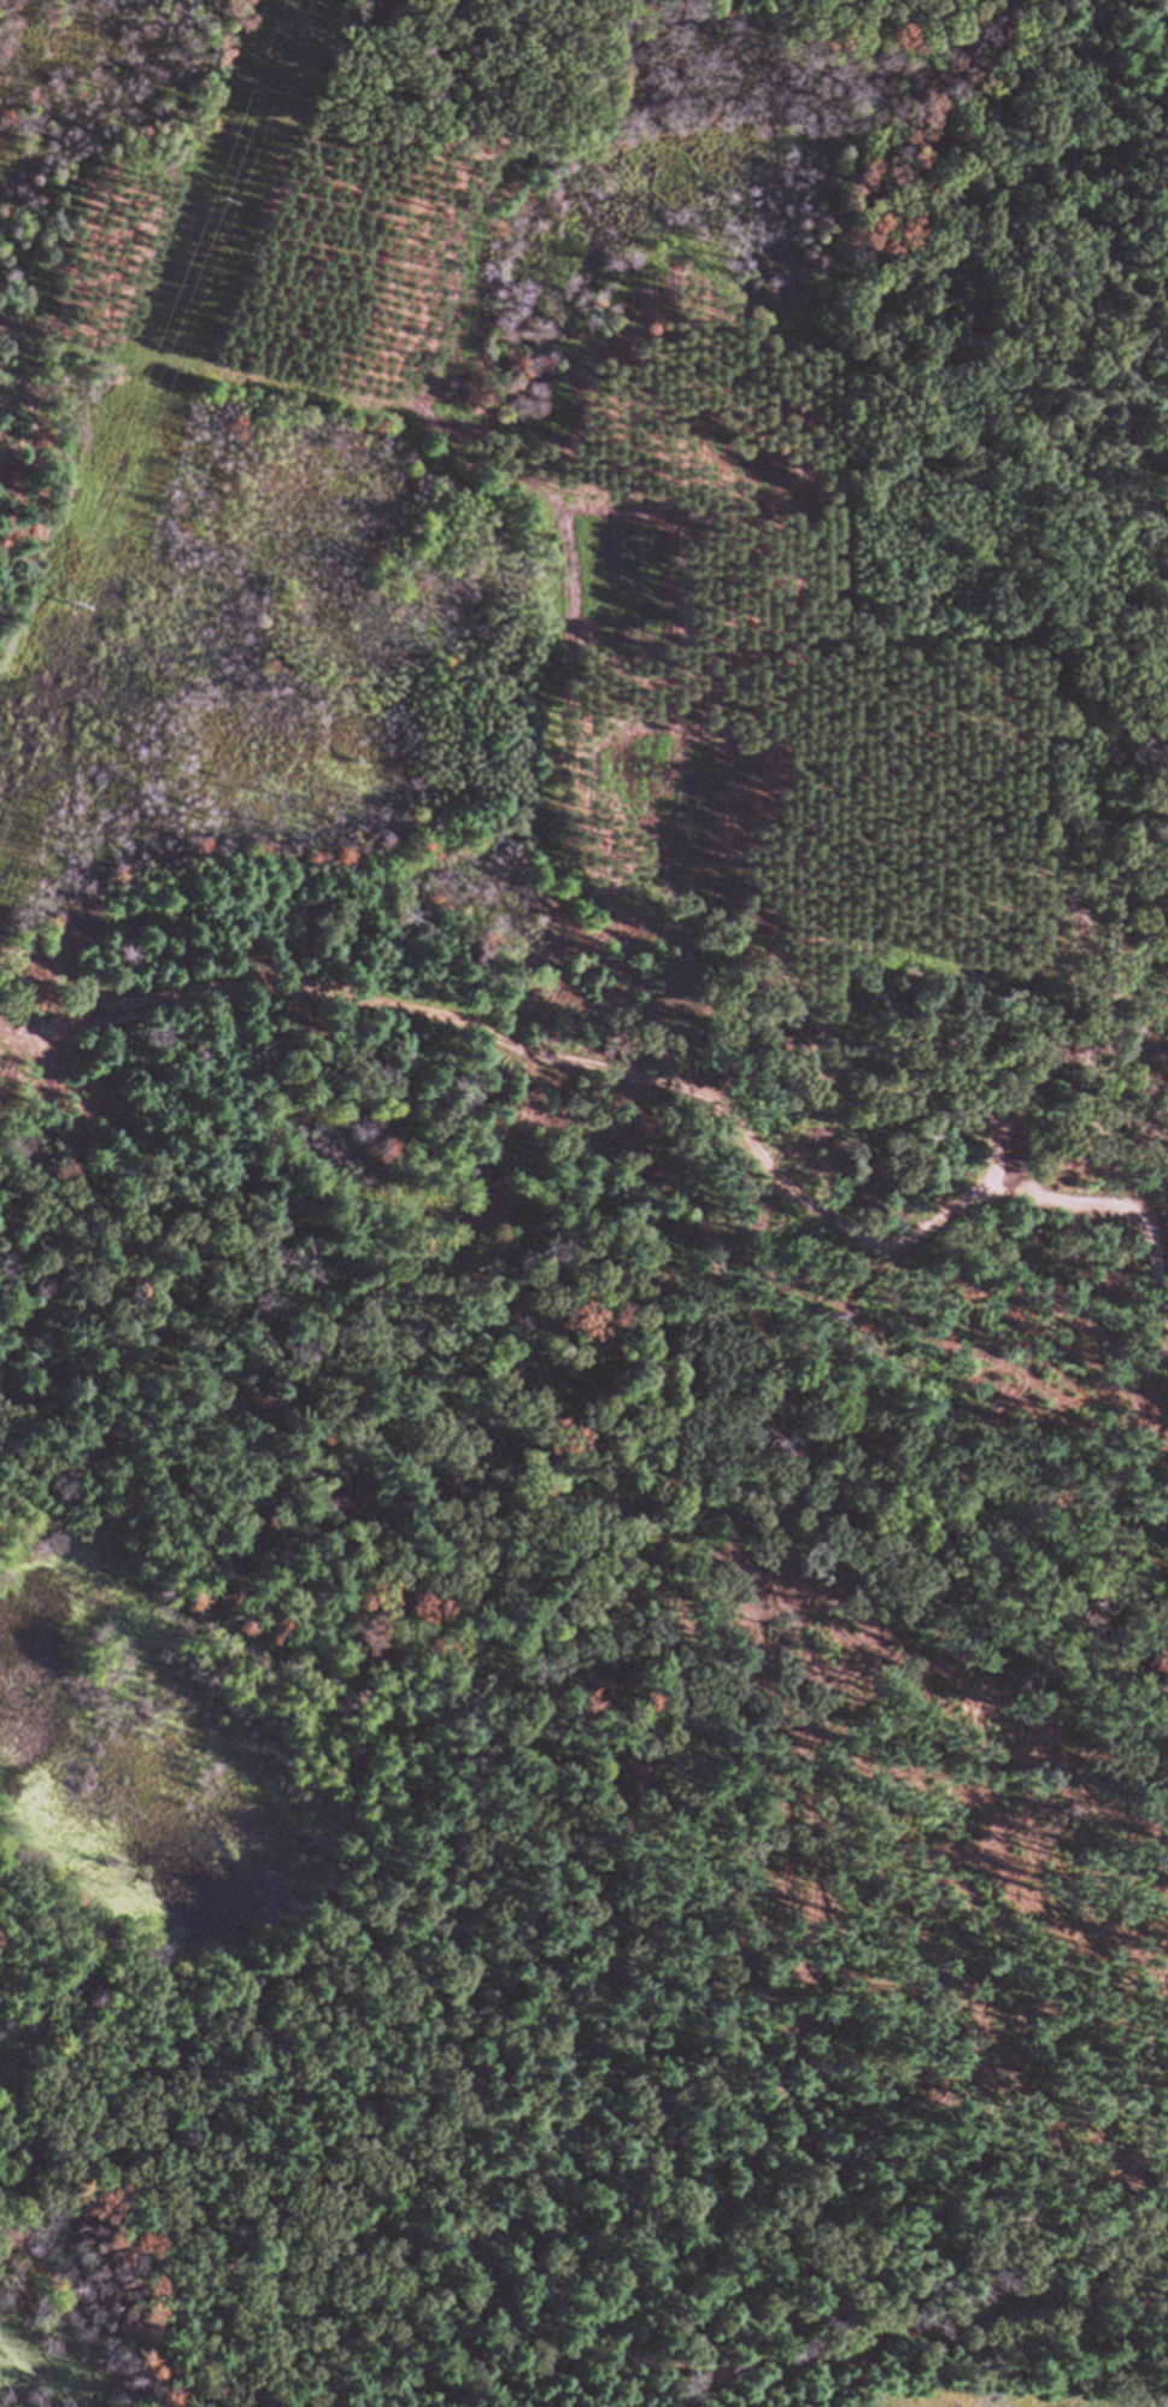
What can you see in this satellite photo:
power tower: (210, 184)
power tower: (61, 580)

